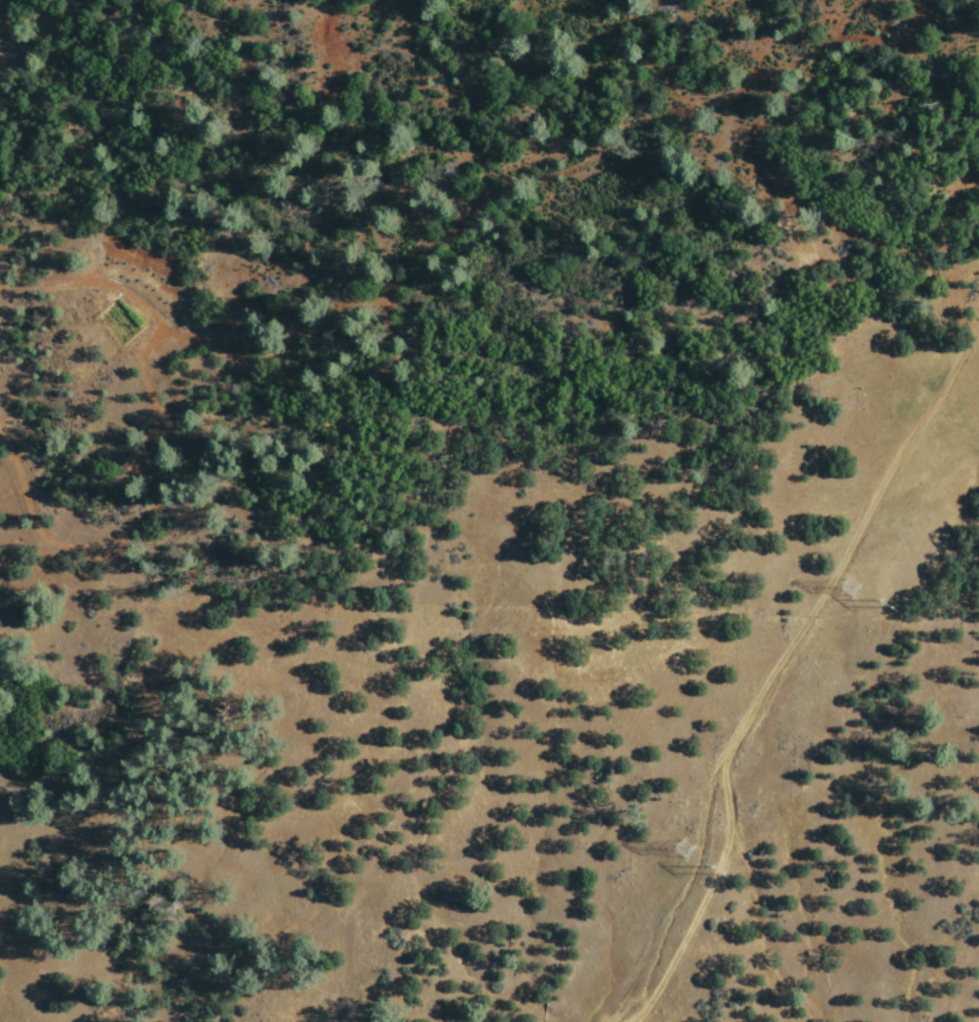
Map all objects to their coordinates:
power tower: (855, 596)
power tower: (895, 615)
power tower: (690, 860)
power tower: (725, 880)

